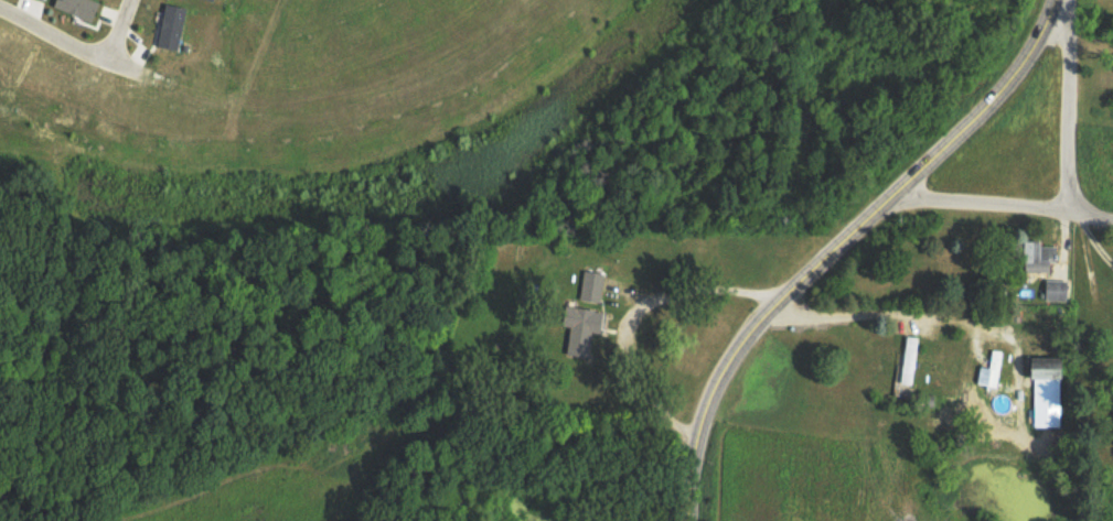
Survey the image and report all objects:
building: (76, 7)
building: (169, 25)
road: (119, 31)
road: (66, 44)
road: (1066, 106)
road: (984, 204)
road: (1091, 224)
road: (844, 245)
building: (1034, 254)
building: (588, 284)
building: (1053, 289)
building: (578, 326)
building: (906, 358)
building: (987, 369)
building: (1044, 393)

